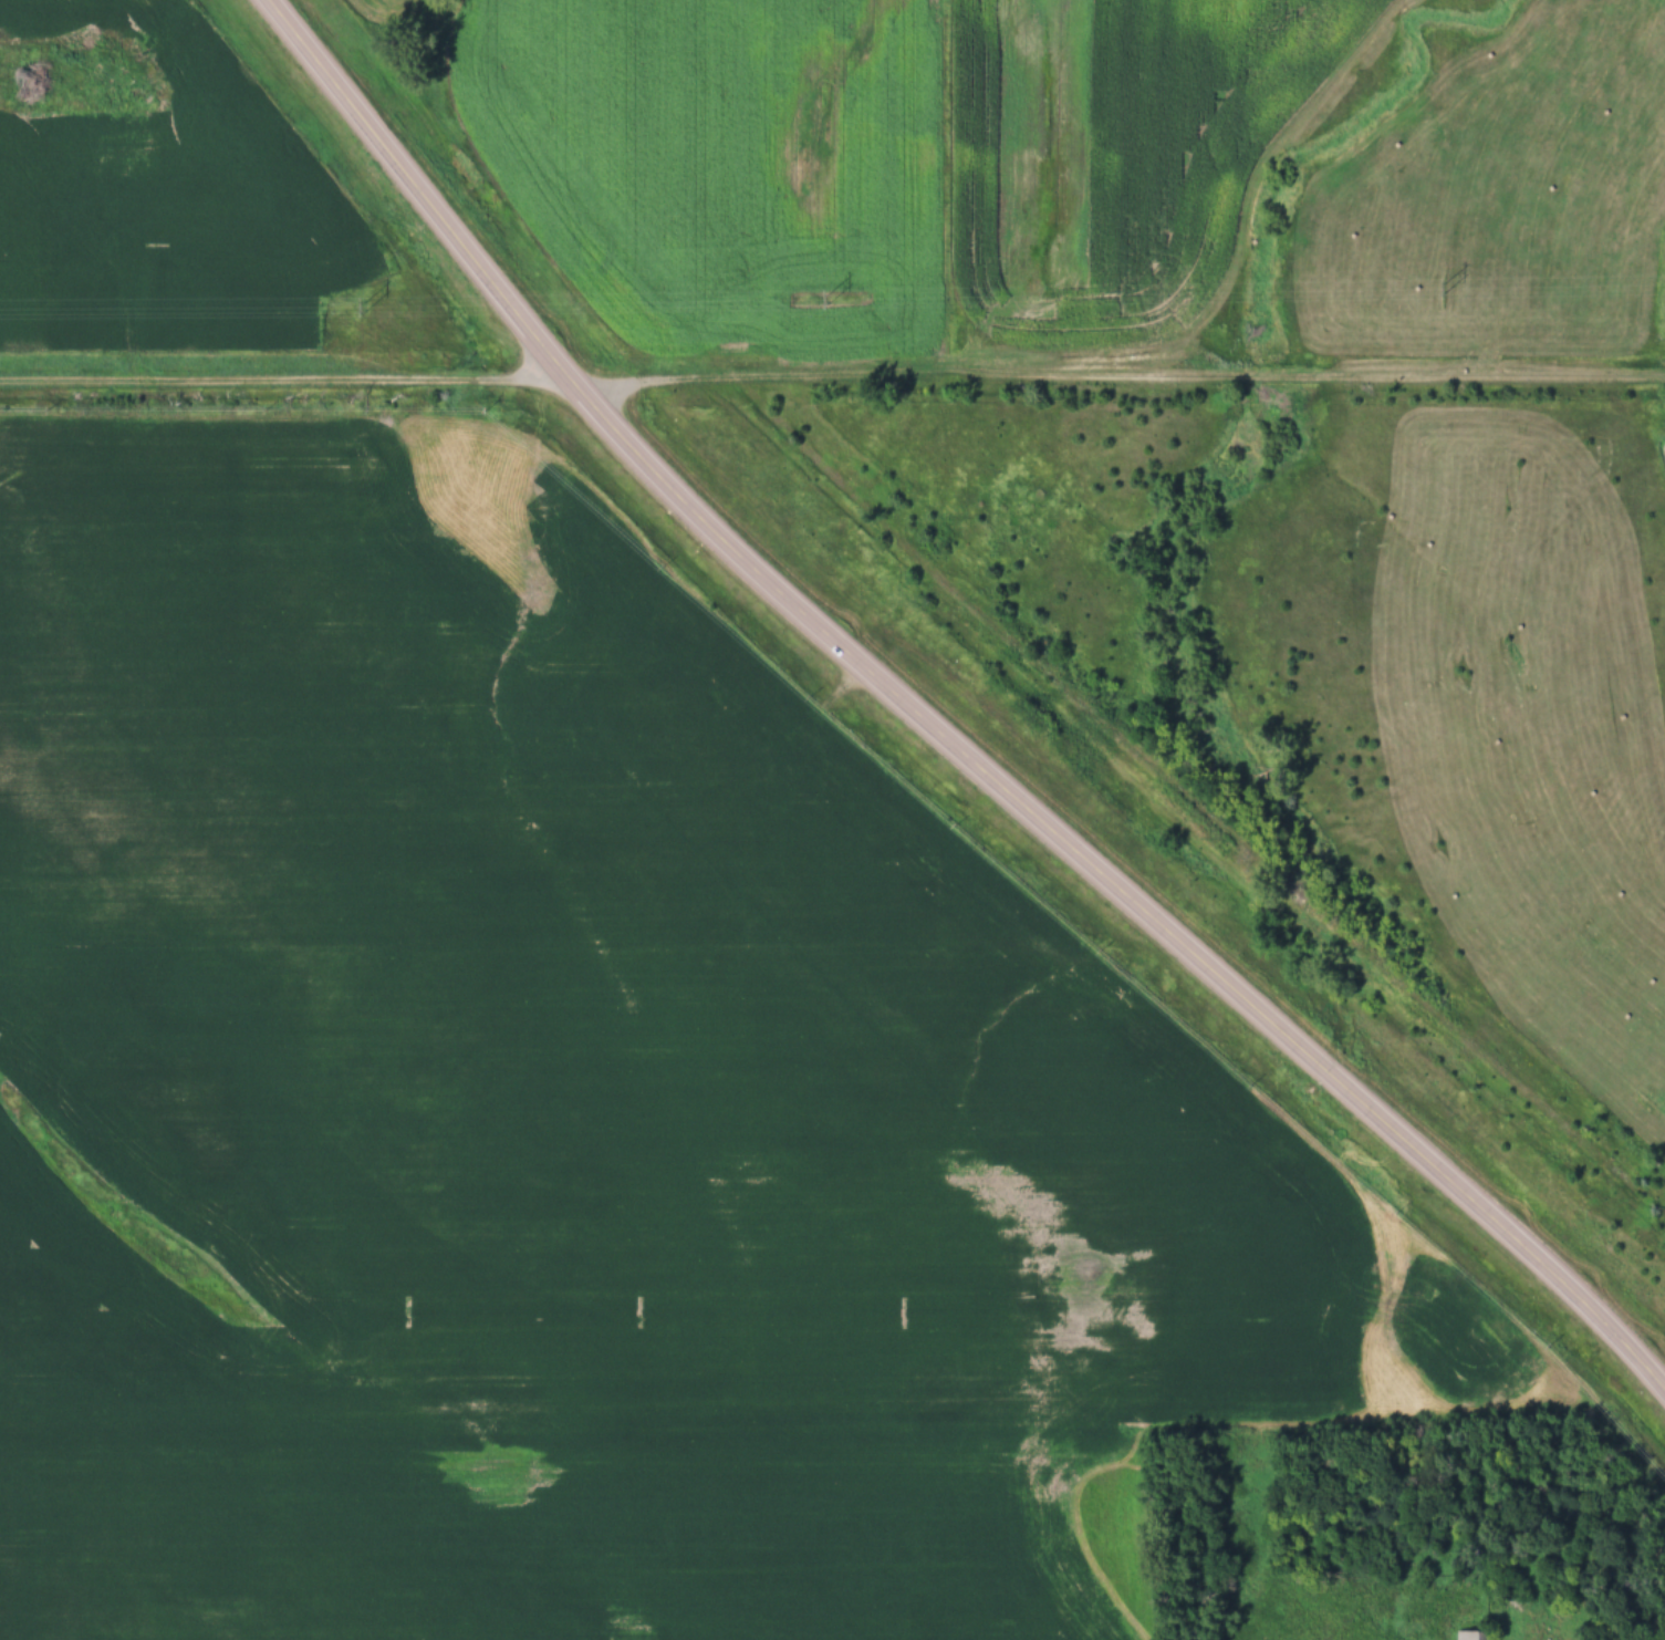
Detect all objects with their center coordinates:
power tower: (1440, 289)
power tower: (826, 300)
power tower: (364, 308)
road: (832, 381)
road: (930, 722)
building: (1466, 1634)

